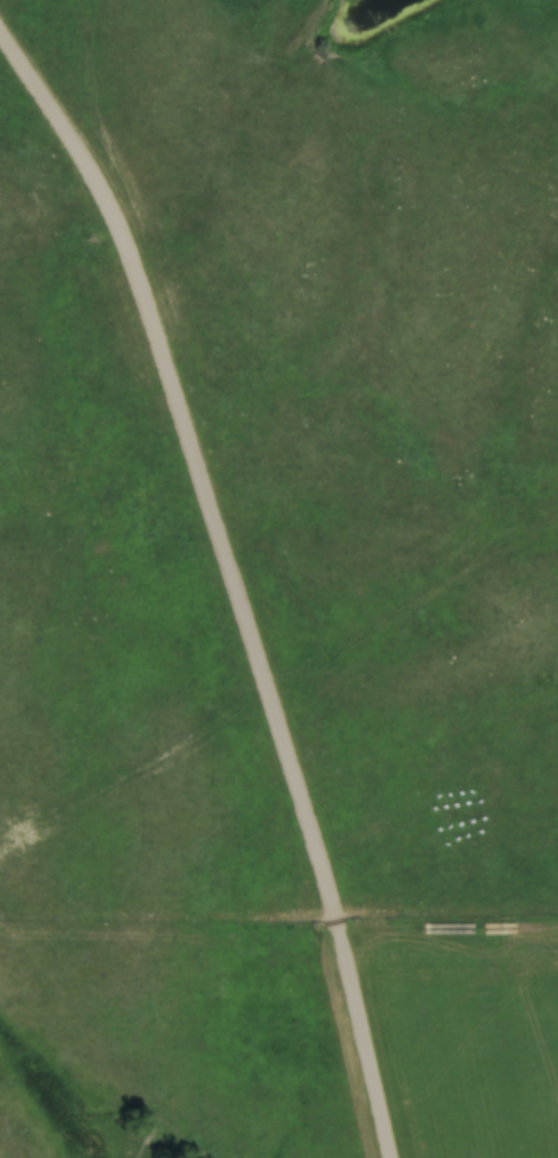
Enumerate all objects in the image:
road: (236, 574)

